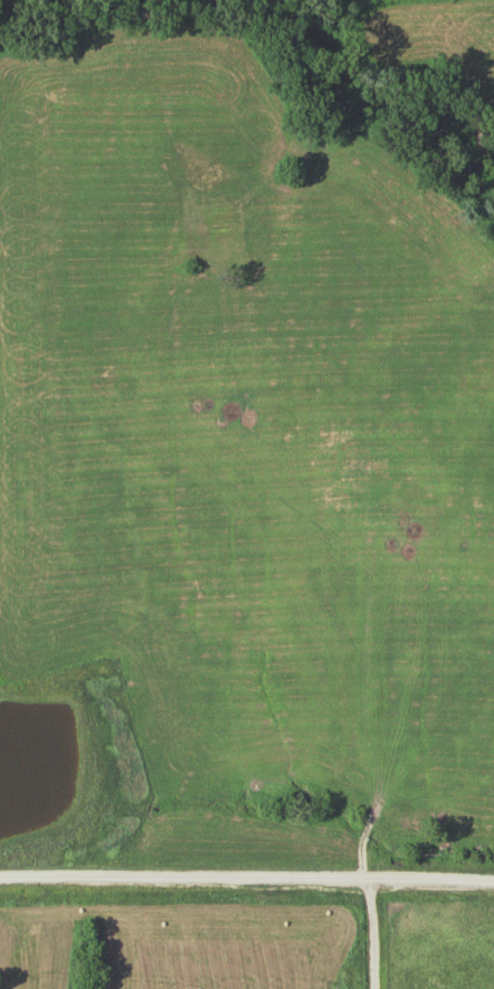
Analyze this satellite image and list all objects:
road: (247, 879)
road: (377, 934)

